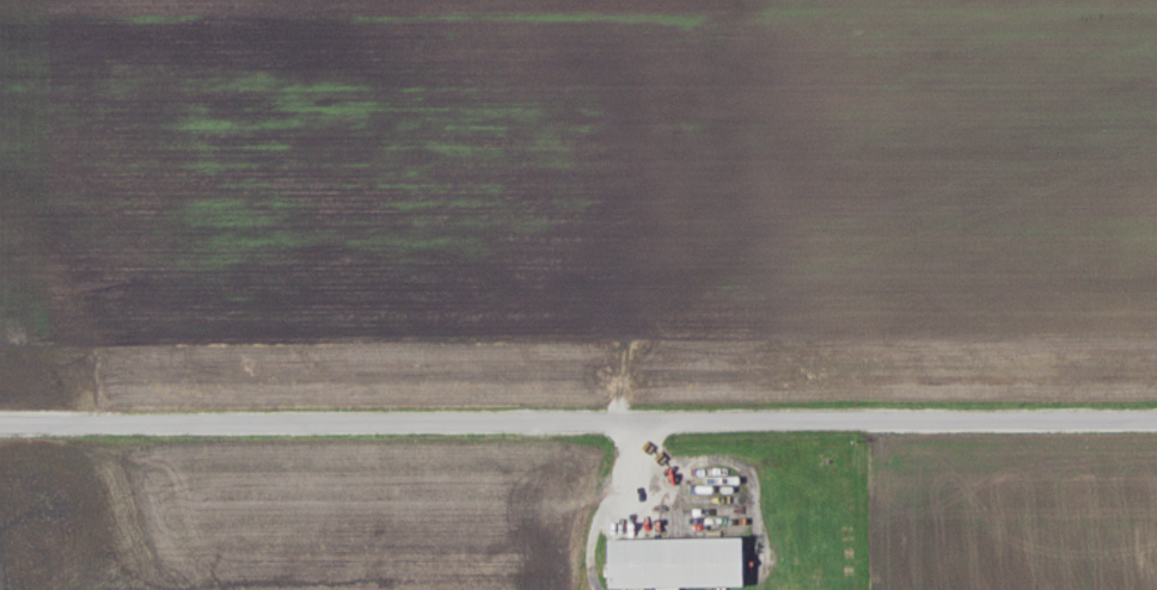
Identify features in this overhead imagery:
road: (577, 426)
road: (632, 462)
building: (673, 561)

